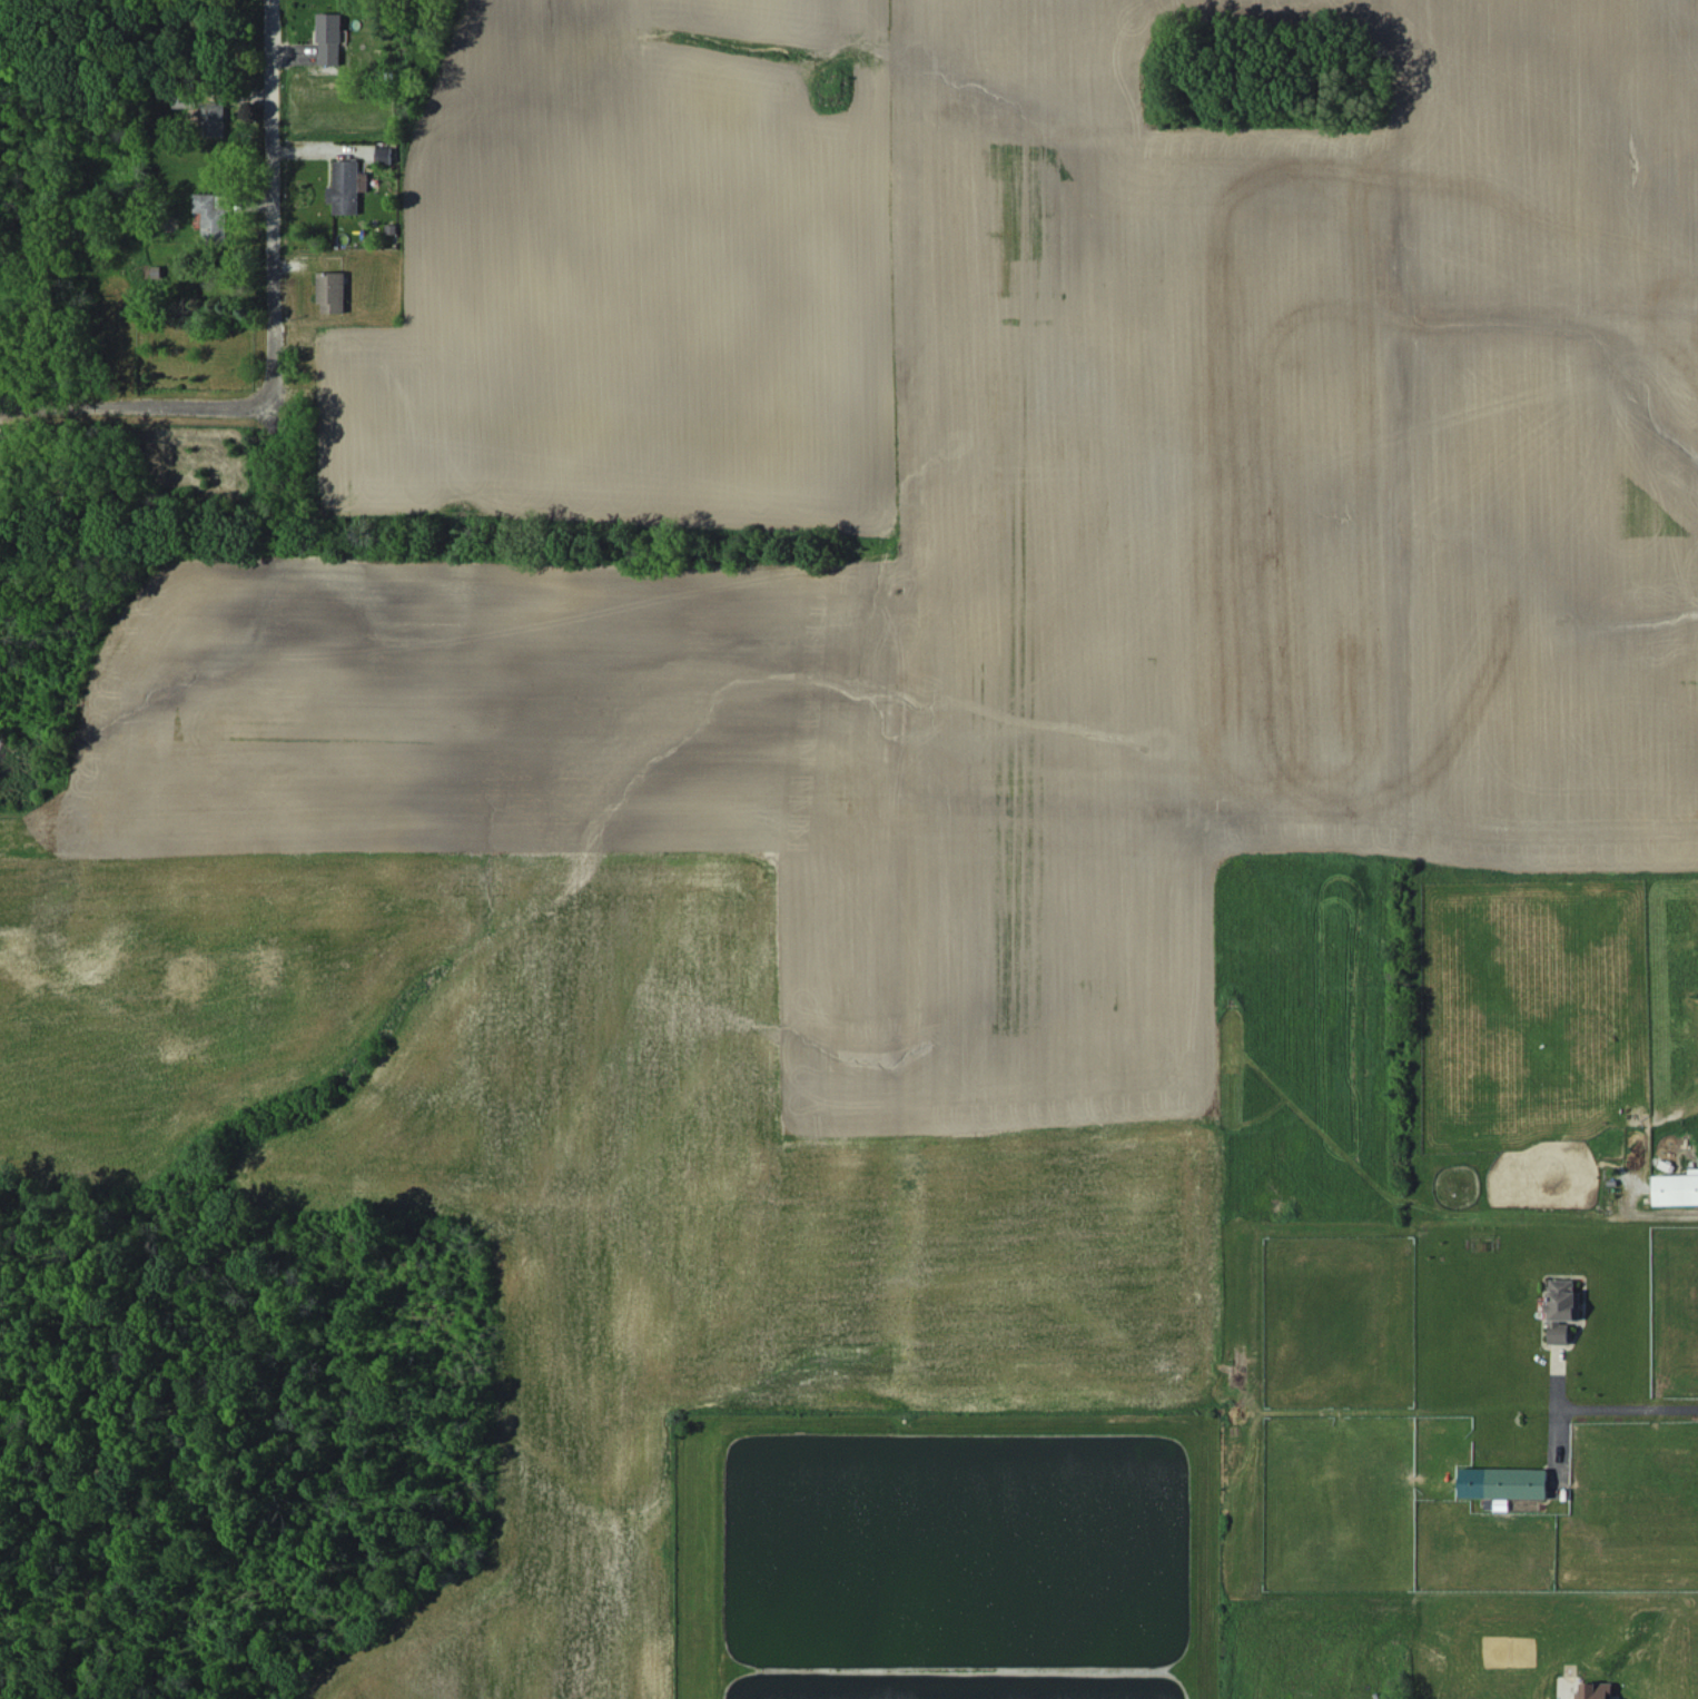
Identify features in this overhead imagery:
building: (329, 38)
building: (213, 119)
building: (383, 155)
building: (346, 186)
road: (267, 205)
building: (213, 214)
building: (332, 292)
road: (134, 413)
building: (1676, 1188)
building: (1562, 1308)
road: (1628, 1403)
building: (1501, 1484)
building: (1596, 1690)

